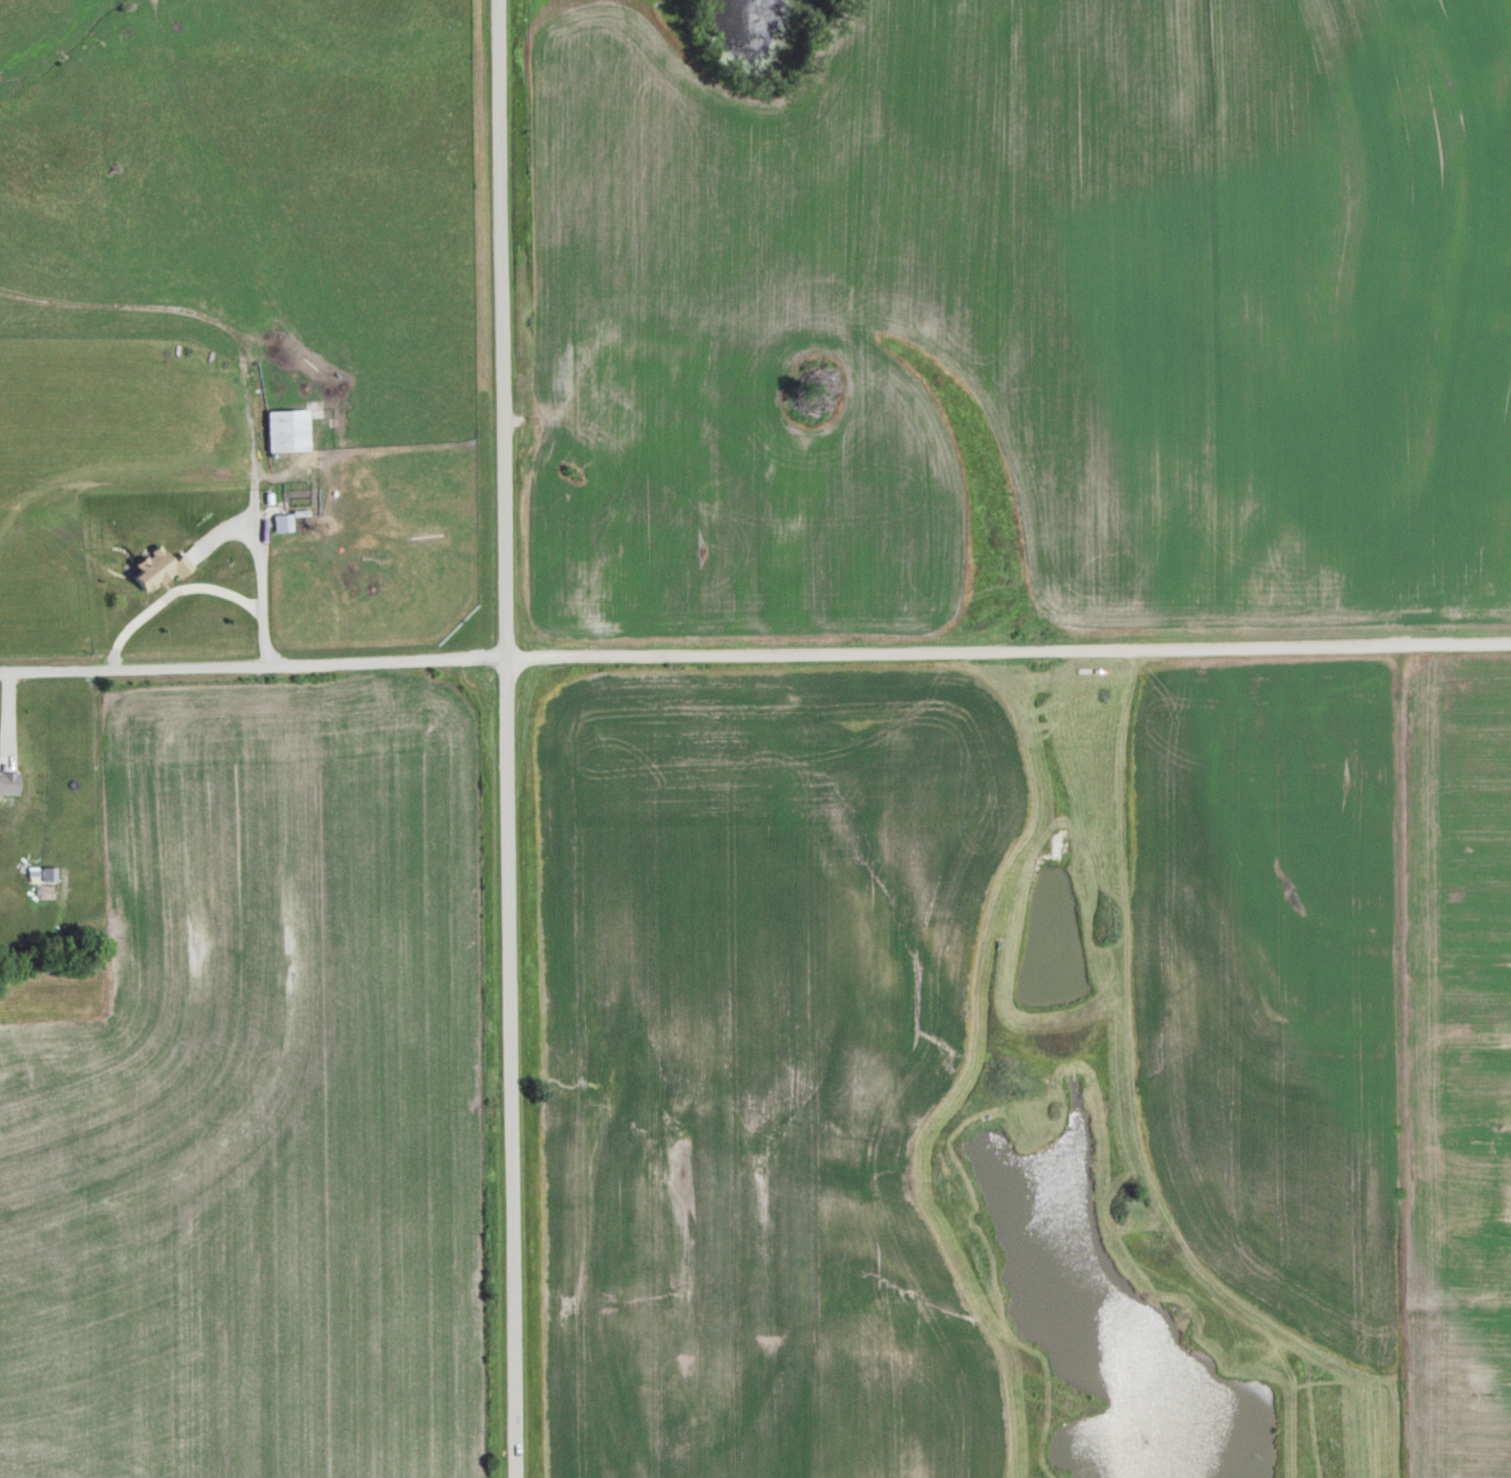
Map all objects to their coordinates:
building: (580, 371)
road: (258, 374)
building: (285, 429)
building: (281, 521)
road: (755, 653)
road: (508, 738)
building: (8, 782)

